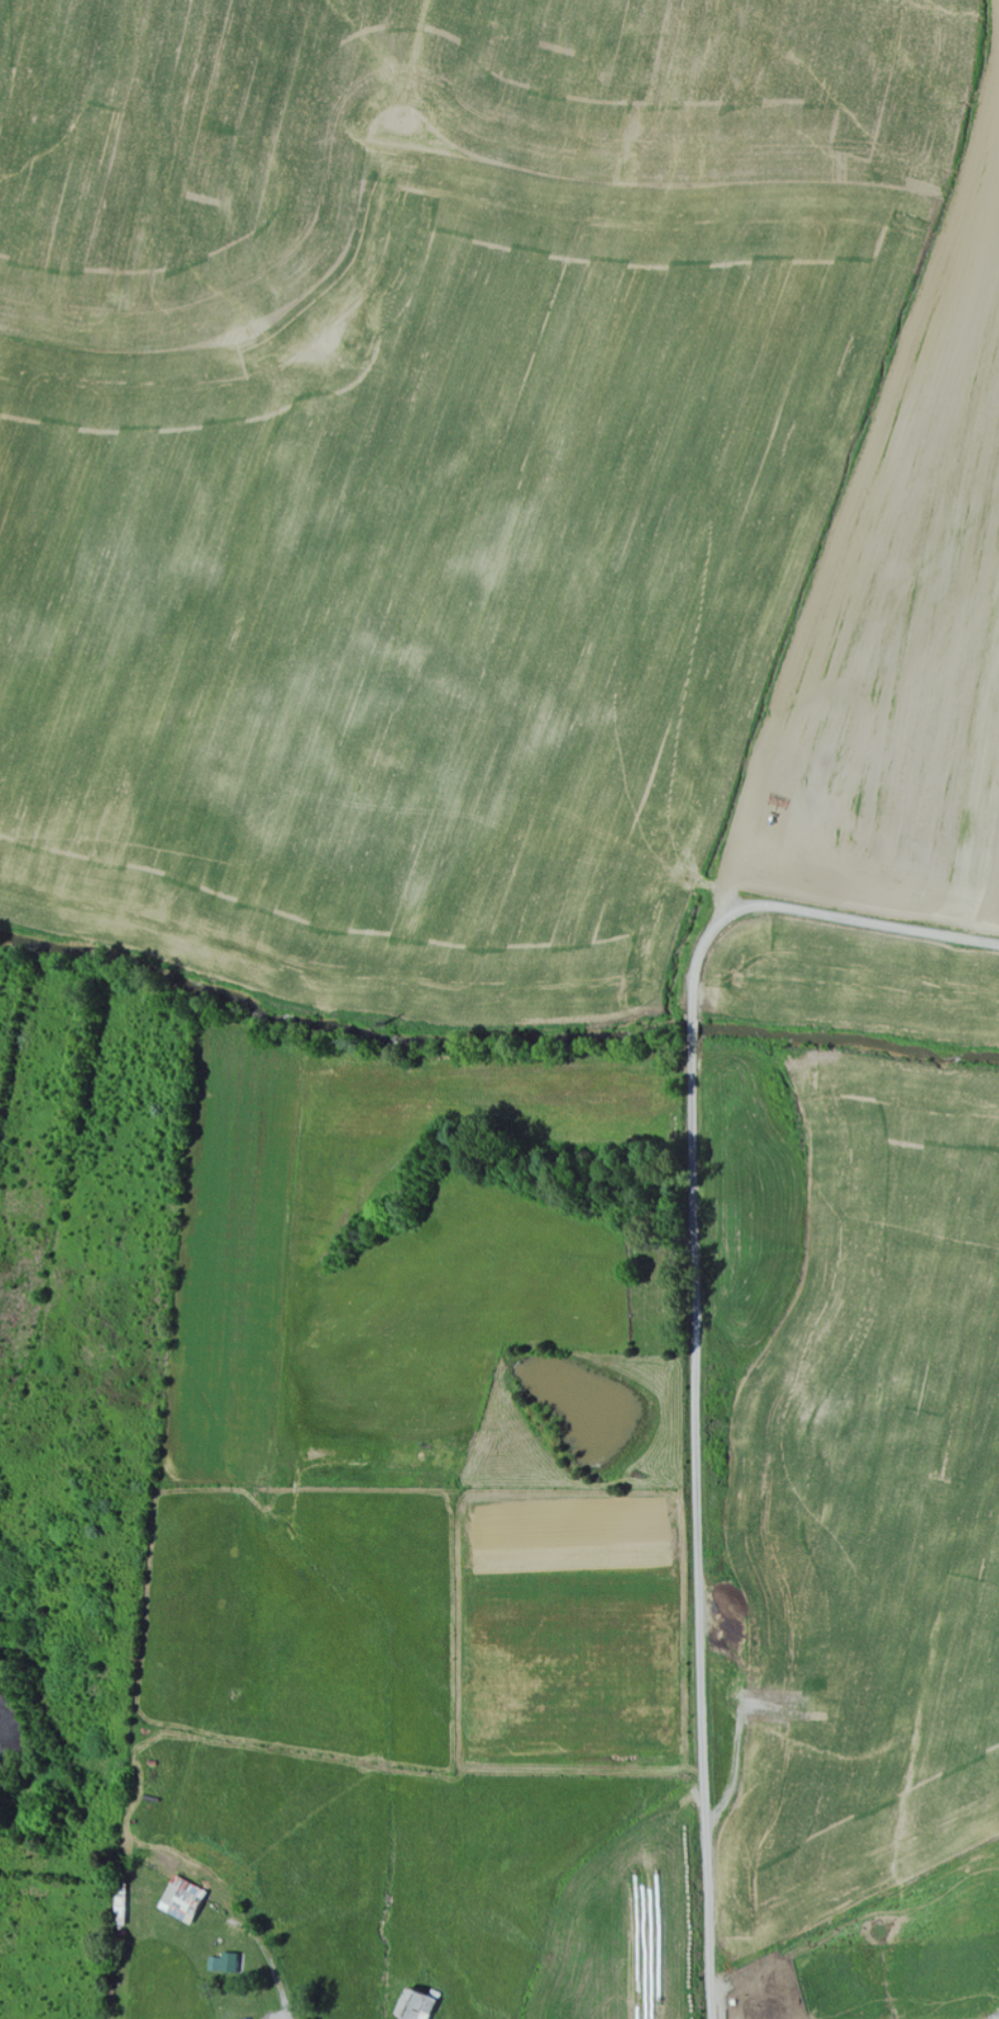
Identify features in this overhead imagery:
park: (655, 1309)
road: (698, 1325)
building: (189, 1900)
building: (230, 1963)
building: (424, 2005)

